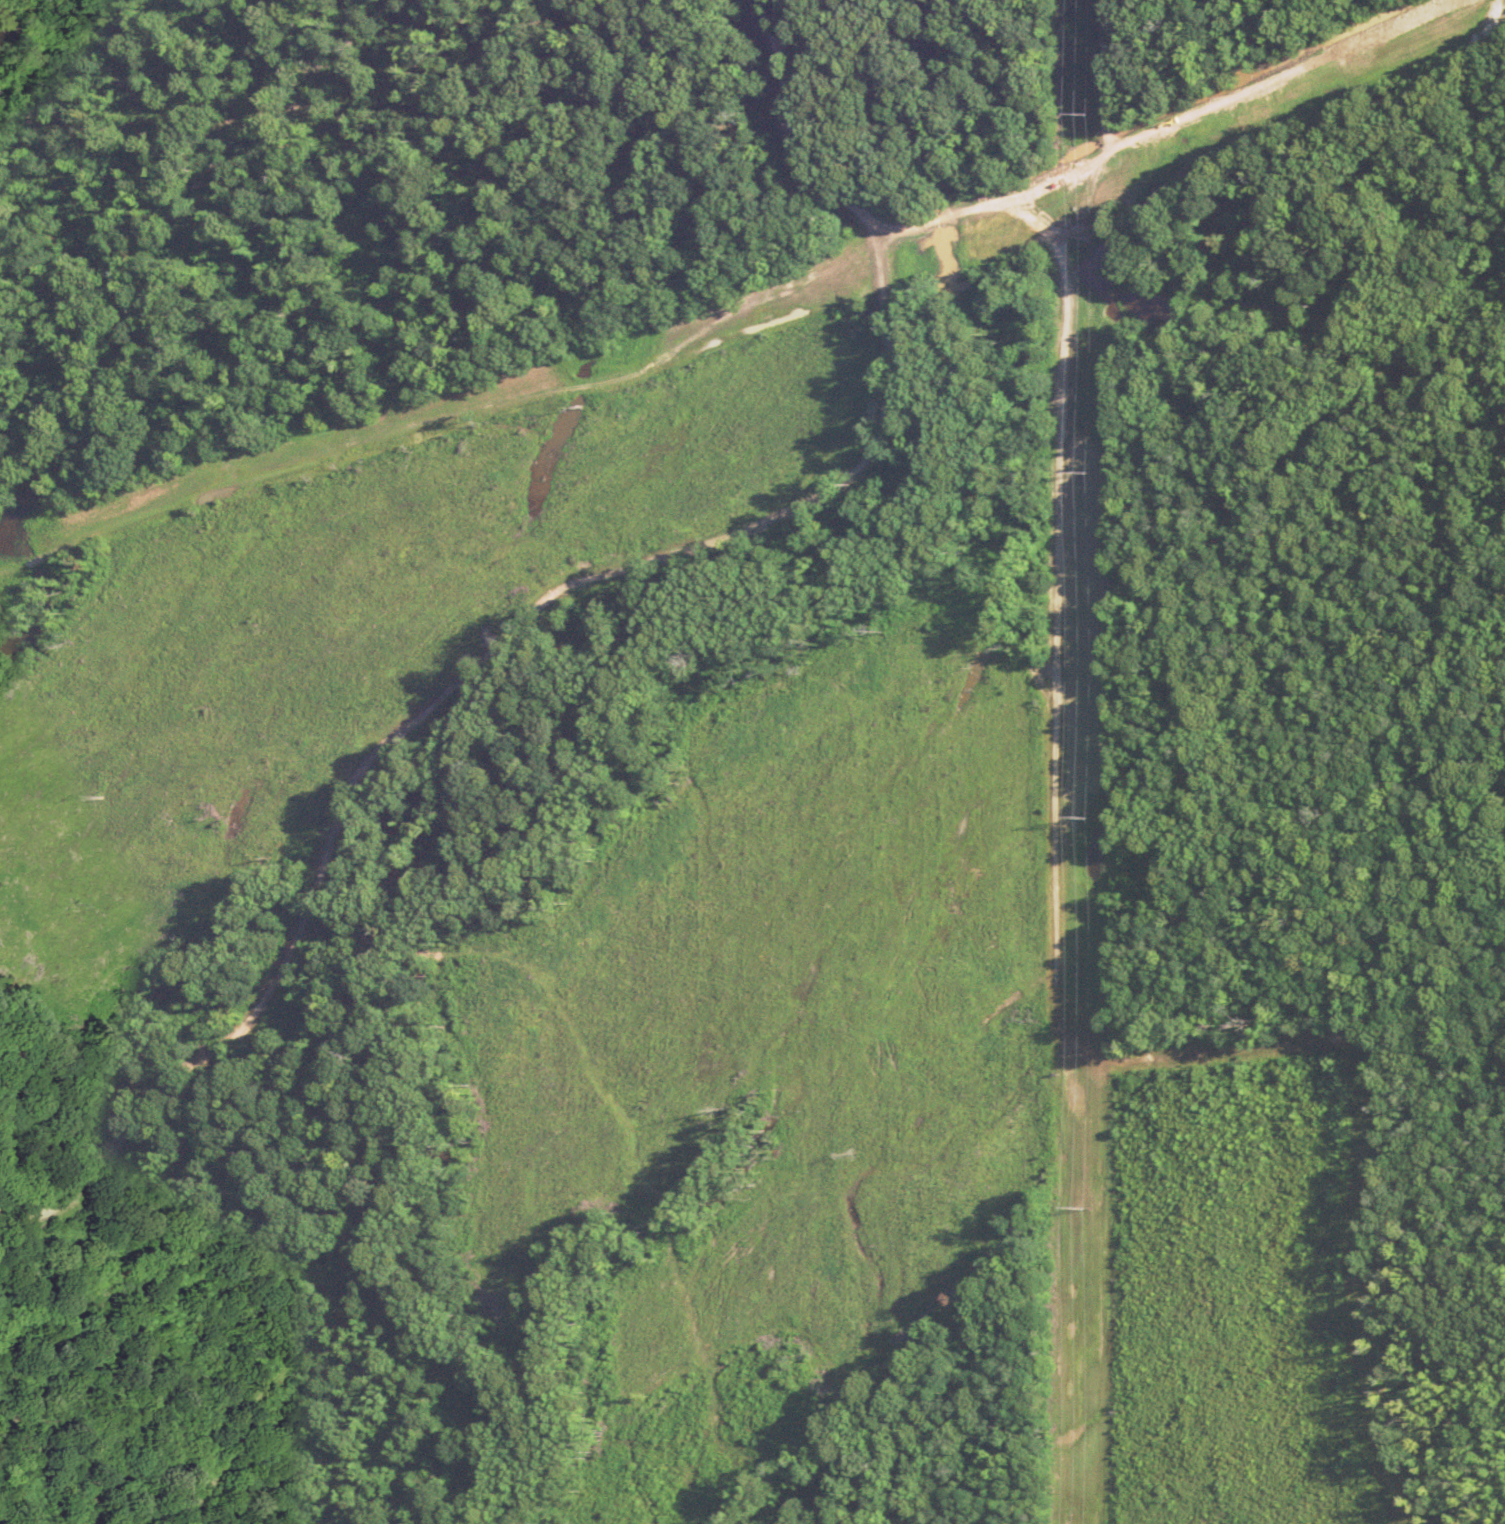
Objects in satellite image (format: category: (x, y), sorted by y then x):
power tower: (1085, 113)
power tower: (1082, 472)
power tower: (1077, 815)
power tower: (1082, 1206)

